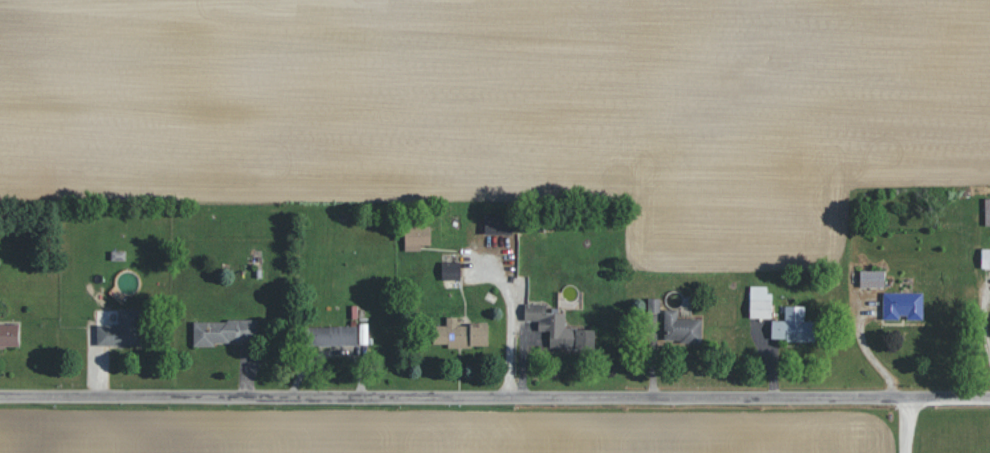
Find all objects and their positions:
building: (498, 225)
building: (416, 238)
building: (985, 258)
building: (450, 271)
building: (872, 279)
building: (760, 302)
building: (653, 305)
building: (902, 306)
building: (794, 327)
building: (681, 328)
building: (559, 329)
building: (121, 330)
building: (224, 332)
building: (461, 334)
building: (9, 336)
building: (334, 336)
road: (495, 395)
road: (902, 424)

